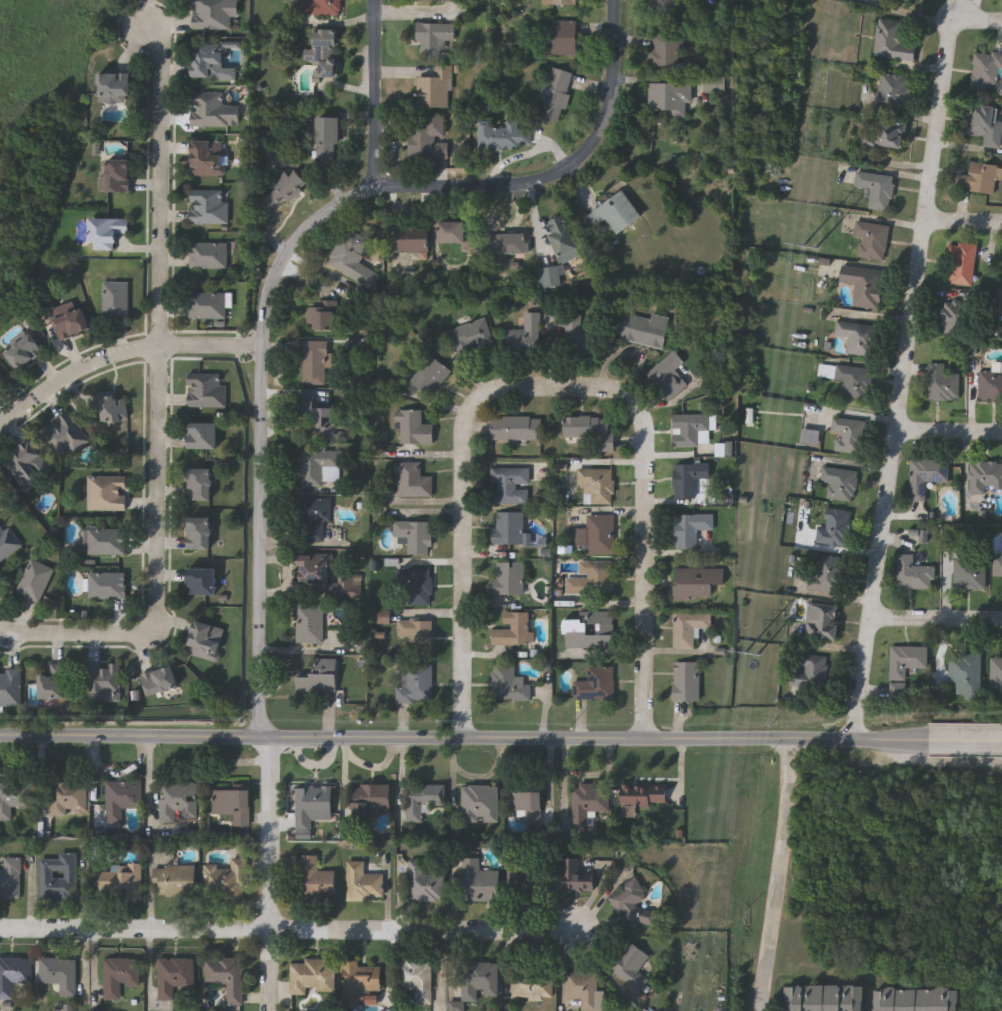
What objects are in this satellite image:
building: (442, 1)
building: (915, 1)
building: (561, 2)
building: (322, 7)
building: (662, 7)
building: (214, 14)
road: (979, 21)
building: (436, 37)
building: (564, 37)
building: (892, 42)
building: (665, 50)
building: (325, 52)
building: (210, 65)
building: (986, 70)
building: (714, 84)
building: (115, 87)
building: (436, 88)
building: (895, 93)
building: (556, 94)
road: (375, 96)
building: (670, 97)
building: (212, 112)
building: (986, 124)
building: (886, 135)
building: (505, 136)
building: (328, 137)
building: (430, 138)
building: (208, 158)
building: (117, 175)
building: (980, 179)
building: (286, 190)
building: (877, 190)
road: (518, 193)
building: (209, 207)
building: (617, 213)
road: (963, 224)
building: (107, 232)
building: (459, 233)
building: (565, 239)
building: (871, 241)
building: (509, 243)
building: (416, 244)
power tower: (811, 248)
building: (349, 251)
building: (208, 256)
building: (962, 265)
road: (281, 270)
building: (550, 276)
building: (865, 287)
building: (115, 300)
building: (207, 305)
building: (324, 315)
building: (957, 319)
building: (72, 324)
road: (158, 329)
building: (646, 329)
building: (581, 333)
building: (527, 334)
building: (472, 336)
building: (858, 338)
building: (24, 351)
road: (118, 358)
building: (314, 361)
building: (432, 374)
building: (669, 375)
road: (902, 380)
building: (1, 381)
building: (854, 382)
building: (942, 384)
building: (991, 385)
building: (206, 390)
building: (113, 409)
building: (321, 418)
building: (416, 428)
building: (517, 428)
building: (592, 429)
building: (692, 429)
road: (948, 433)
building: (65, 435)
building: (202, 436)
building: (848, 436)
building: (25, 462)
building: (319, 467)
building: (926, 477)
building: (985, 478)
building: (690, 479)
building: (414, 481)
building: (840, 484)
building: (200, 485)
building: (511, 485)
building: (597, 485)
building: (106, 493)
road: (463, 501)
building: (315, 518)
building: (509, 527)
building: (692, 529)
building: (835, 530)
building: (199, 534)
building: (601, 534)
building: (416, 536)
building: (7, 541)
building: (106, 542)
road: (649, 562)
building: (997, 567)
building: (315, 568)
building: (826, 575)
building: (913, 575)
building: (969, 575)
building: (509, 578)
building: (592, 579)
building: (35, 581)
building: (201, 582)
building: (697, 584)
building: (416, 585)
building: (107, 586)
road: (265, 609)
road: (936, 622)
building: (823, 623)
building: (313, 626)
building: (689, 627)
building: (517, 629)
building: (590, 629)
road: (75, 636)
building: (418, 636)
building: (205, 641)
power tower: (753, 658)
building: (906, 662)
building: (810, 672)
building: (996, 675)
building: (965, 676)
building: (320, 677)
building: (159, 681)
building: (687, 681)
building: (103, 682)
building: (52, 683)
building: (417, 684)
building: (510, 684)
building: (596, 684)
building: (10, 688)
road: (133, 739)
road: (634, 741)
building: (643, 794)
building: (15, 797)
building: (421, 798)
building: (69, 799)
building: (122, 800)
building: (179, 801)
building: (523, 801)
building: (370, 802)
building: (478, 802)
building: (586, 803)
building: (311, 804)
building: (234, 806)
building: (545, 875)
road: (777, 875)
building: (573, 876)
building: (59, 877)
building: (315, 878)
building: (10, 879)
building: (424, 880)
building: (175, 881)
building: (226, 881)
building: (477, 881)
building: (122, 882)
building: (361, 882)
building: (628, 899)
road: (135, 930)
road: (426, 932)
building: (629, 964)
road: (269, 970)
building: (13, 975)
building: (60, 975)
building: (478, 975)
building: (121, 976)
building: (175, 976)
building: (311, 976)
building: (227, 978)
building: (357, 980)
building: (531, 984)
building: (582, 989)
building: (824, 998)
building: (916, 1000)

